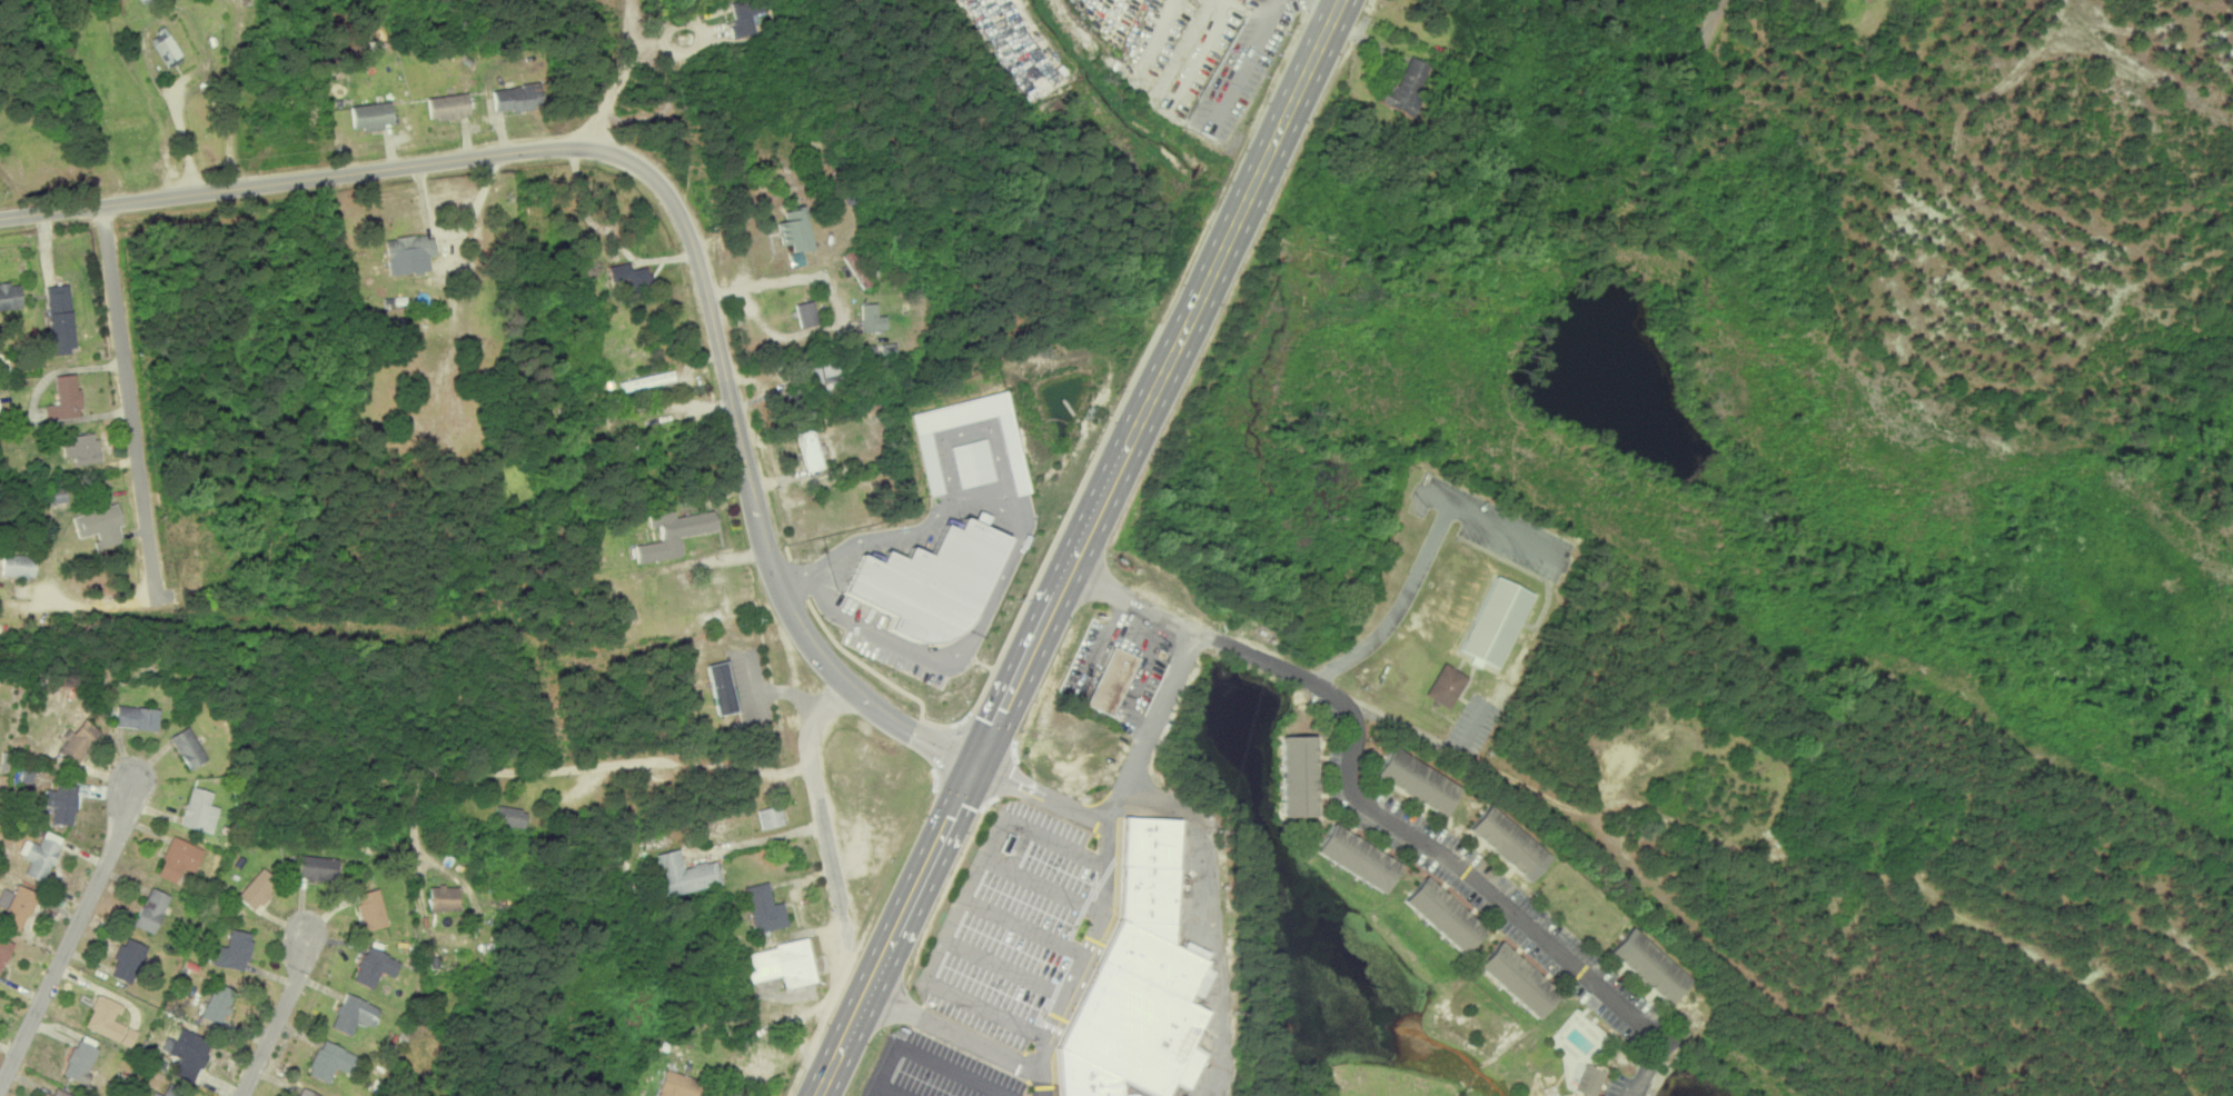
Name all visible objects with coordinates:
building: (145, 1)
building: (743, 16)
road: (1703, 33)
building: (166, 48)
road: (626, 76)
road: (1306, 87)
building: (1407, 87)
building: (517, 98)
building: (447, 107)
building: (370, 116)
road: (668, 191)
building: (795, 229)
building: (409, 247)
building: (796, 259)
building: (857, 268)
building: (631, 275)
building: (9, 296)
dam: (1579, 302)
building: (806, 313)
building: (60, 317)
building: (872, 318)
building: (880, 350)
dam: (1551, 367)
building: (824, 375)
building: (647, 380)
building: (64, 398)
road: (128, 402)
building: (82, 448)
building: (810, 449)
building: (929, 460)
building: (972, 462)
building: (99, 525)
building: (673, 534)
building: (17, 566)
building: (929, 582)
building: (1491, 622)
road: (1042, 635)
building: (1112, 680)
building: (1443, 686)
building: (722, 688)
building: (137, 717)
building: (78, 740)
building: (188, 747)
traffic signals: (977, 768)
road: (559, 770)
building: (1299, 776)
building: (1417, 780)
road: (1361, 781)
road: (1124, 786)
road: (816, 796)
building: (61, 804)
building: (199, 810)
building: (510, 816)
building: (771, 816)
building: (1508, 843)
building: (40, 855)
building: (1358, 857)
building: (178, 859)
building: (318, 868)
dam: (1267, 873)
building: (685, 874)
building: (257, 889)
building: (444, 898)
building: (1578, 904)
building: (17, 906)
building: (371, 909)
building: (765, 909)
building: (150, 910)
road: (961, 911)
building: (1443, 914)
road: (69, 939)
building: (234, 950)
building: (3, 951)
building: (129, 956)
building: (782, 964)
building: (1649, 965)
building: (374, 967)
building: (1518, 979)
building: (1141, 982)
building: (217, 1004)
building: (354, 1014)
road: (272, 1018)
building: (108, 1020)
road: (1052, 1036)
building: (188, 1050)
road: (929, 1057)
building: (329, 1060)
building: (80, 1062)
building: (754, 1065)
road: (1650, 1066)
building: (1589, 1080)
road: (1040, 1083)
building: (678, 1085)
dam: (1675, 1087)
building: (167, 1092)
building: (58, 1093)
building: (305, 1093)

